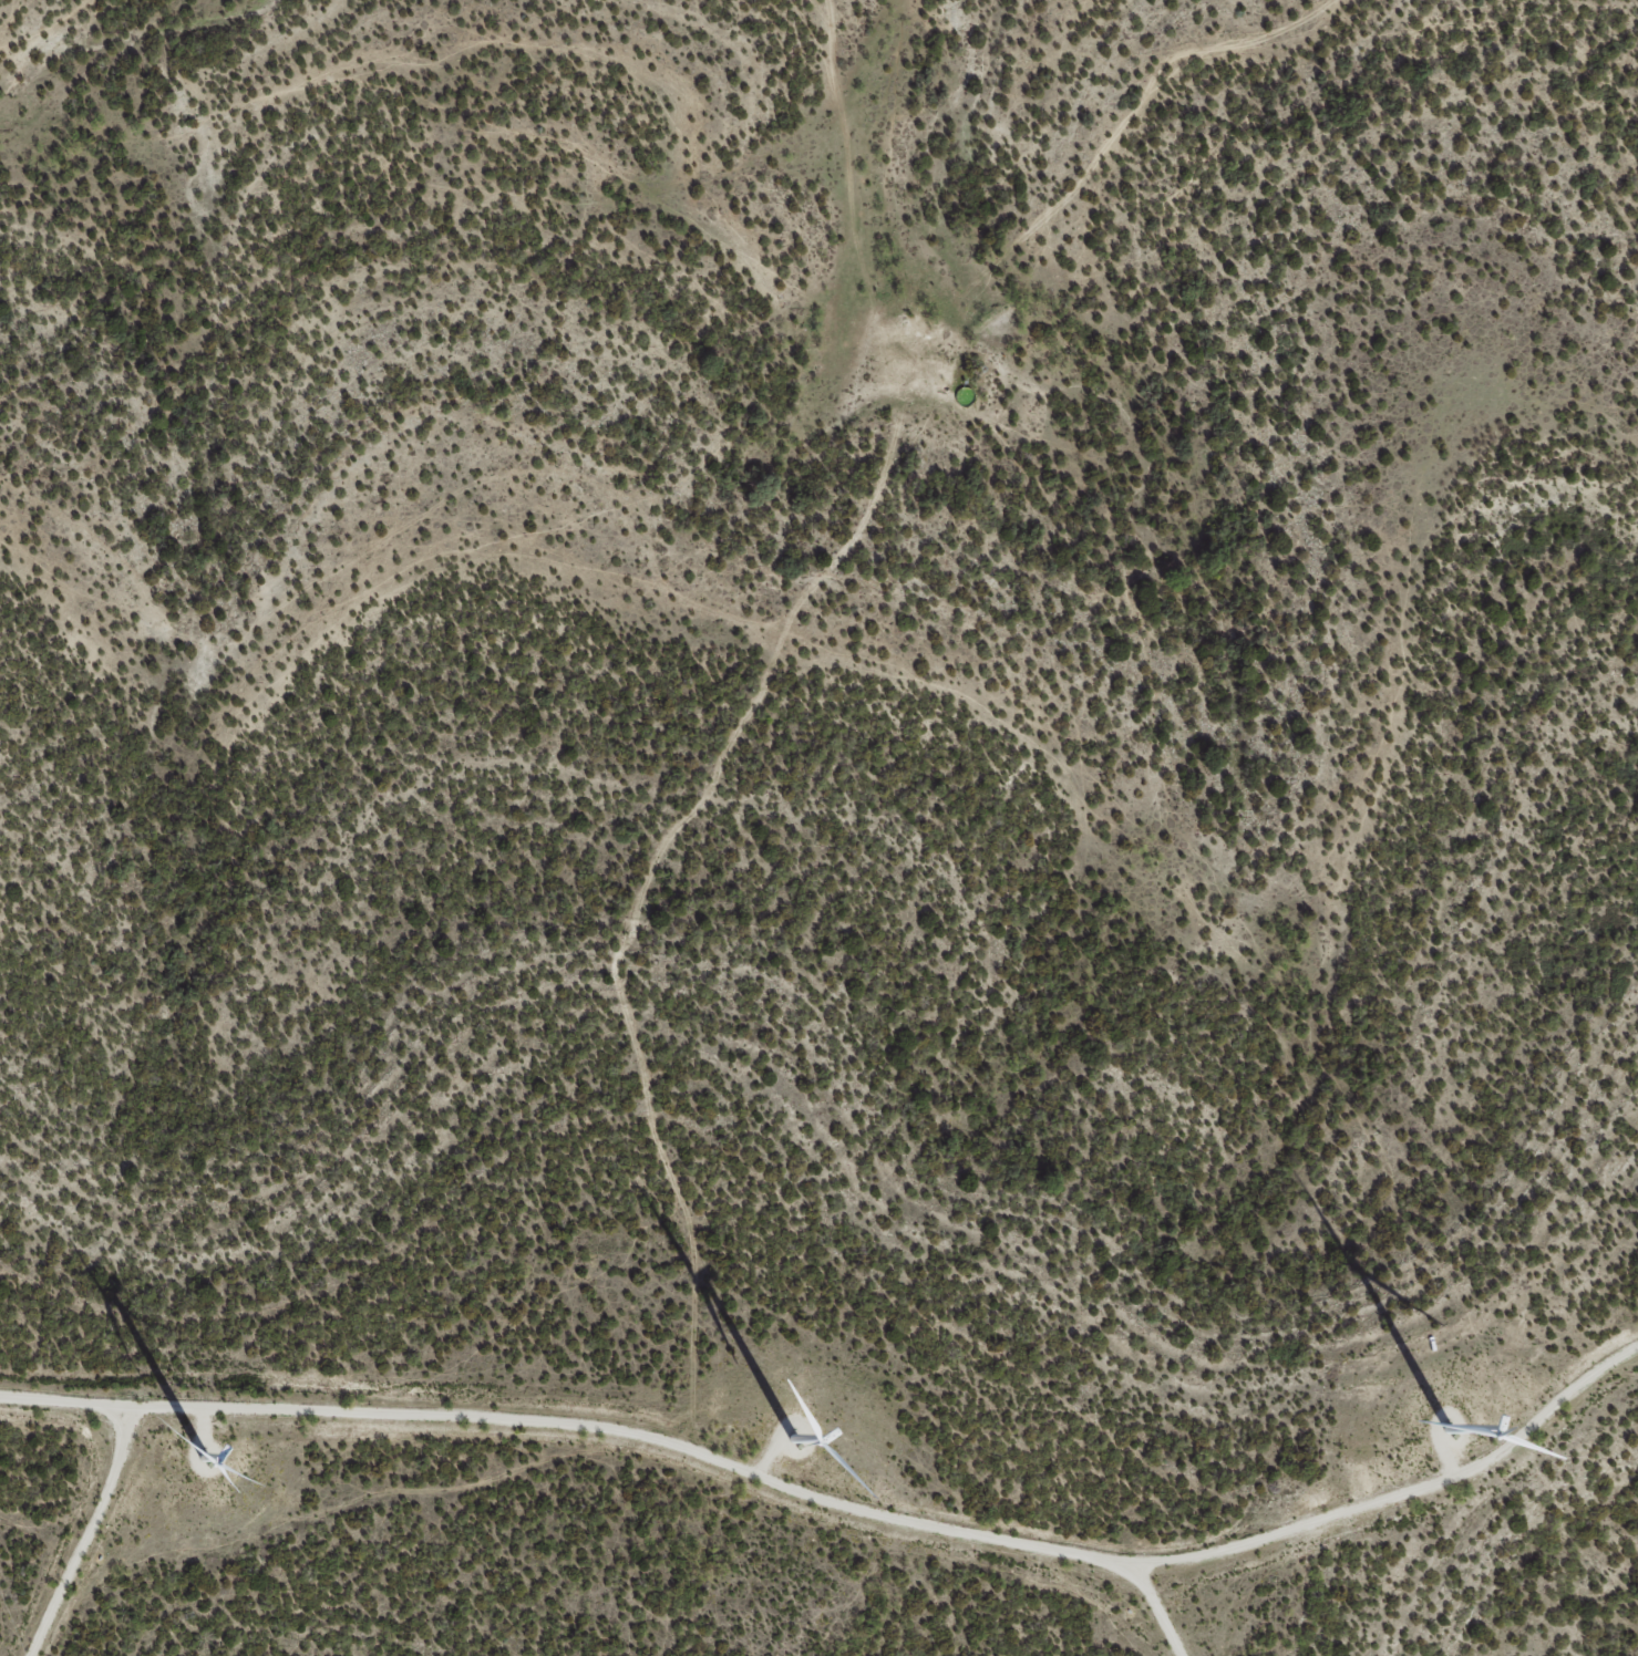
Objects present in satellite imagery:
road: (864, 184)
wind turbine: (1446, 1429)
wind turbine: (793, 1438)
wind turbine: (203, 1458)

